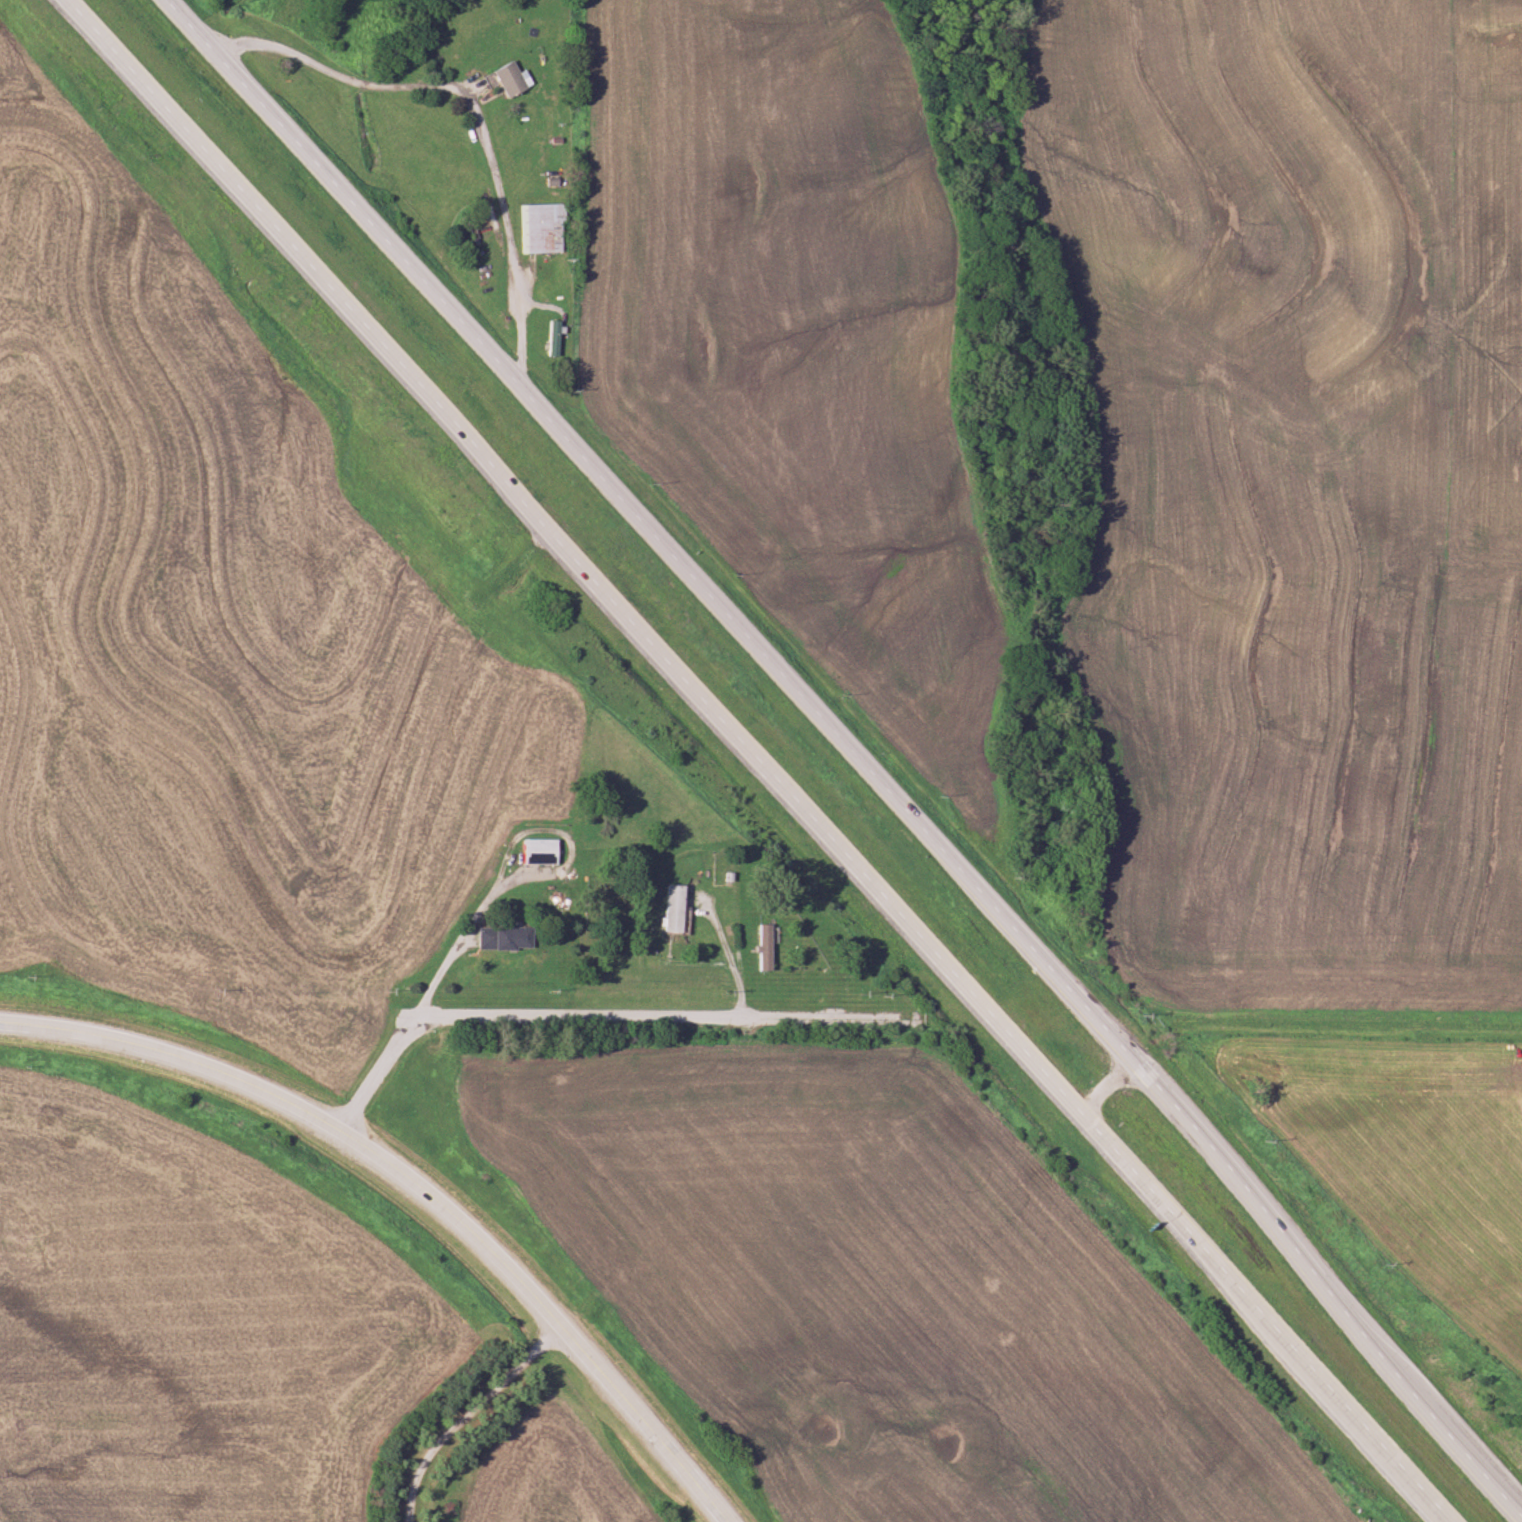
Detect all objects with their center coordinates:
building: (503, 80)
road: (482, 112)
building: (537, 228)
building: (547, 338)
road: (849, 746)
road: (754, 758)
building: (557, 803)
building: (531, 851)
building: (666, 908)
building: (496, 938)
building: (760, 947)
road: (616, 1016)
road: (1345, 1025)
road: (419, 1183)
road: (467, 1413)

